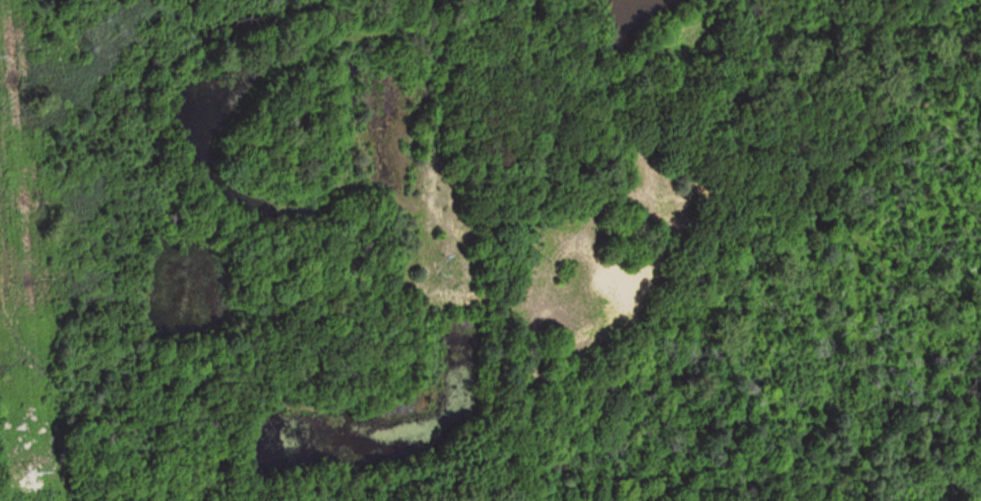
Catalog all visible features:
power tower: (1, 58)
power tower: (44, 462)

